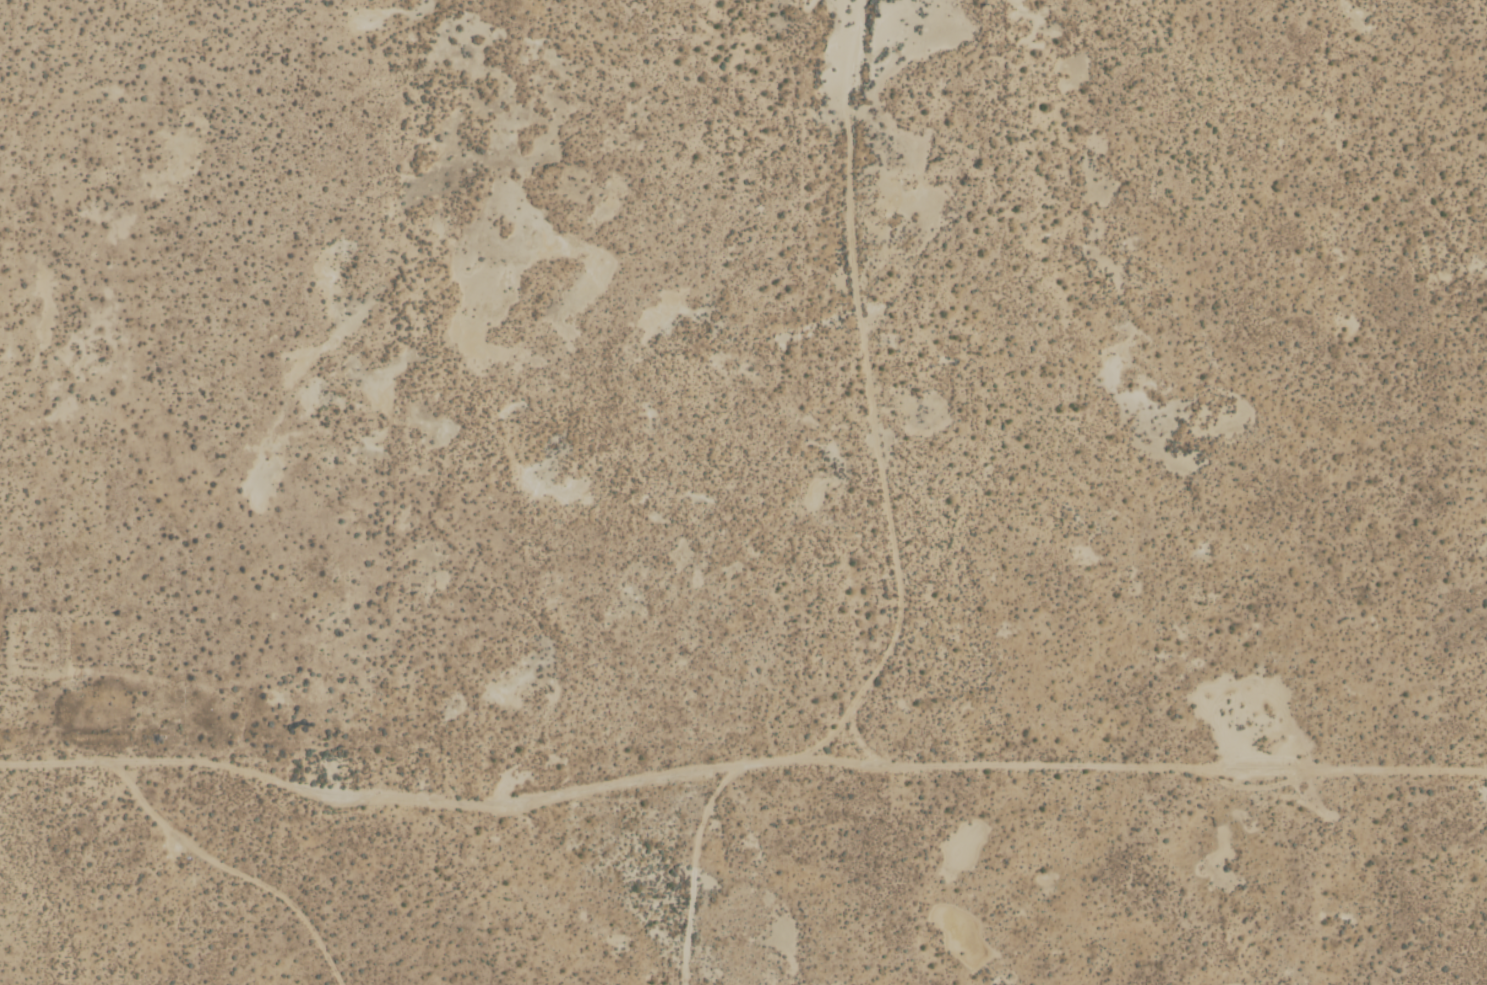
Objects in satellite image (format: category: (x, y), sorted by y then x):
road: (868, 388)
road: (55, 761)
road: (1128, 762)
road: (439, 801)
road: (229, 870)

